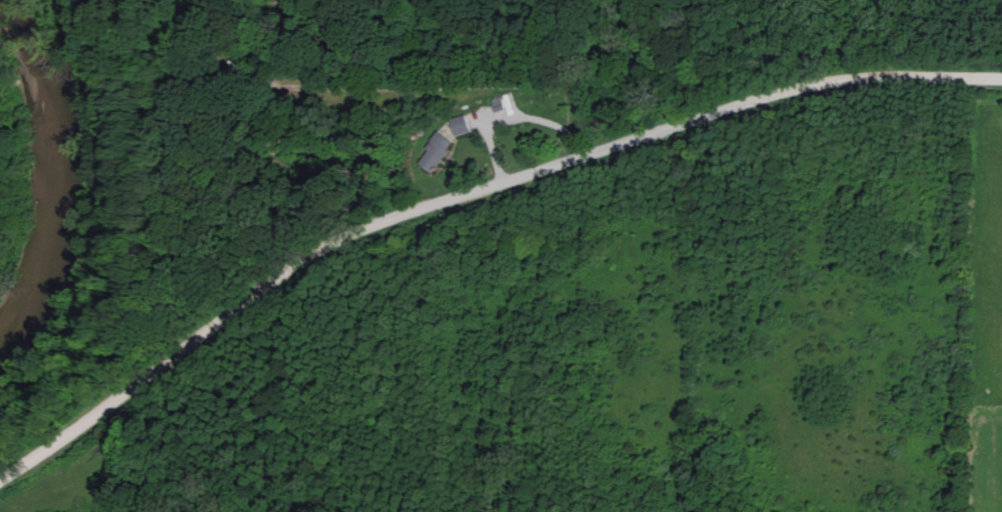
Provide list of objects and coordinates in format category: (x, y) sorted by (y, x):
road: (919, 82)
building: (461, 124)
building: (435, 152)
river: (55, 175)
road: (413, 213)
road: (24, 470)

